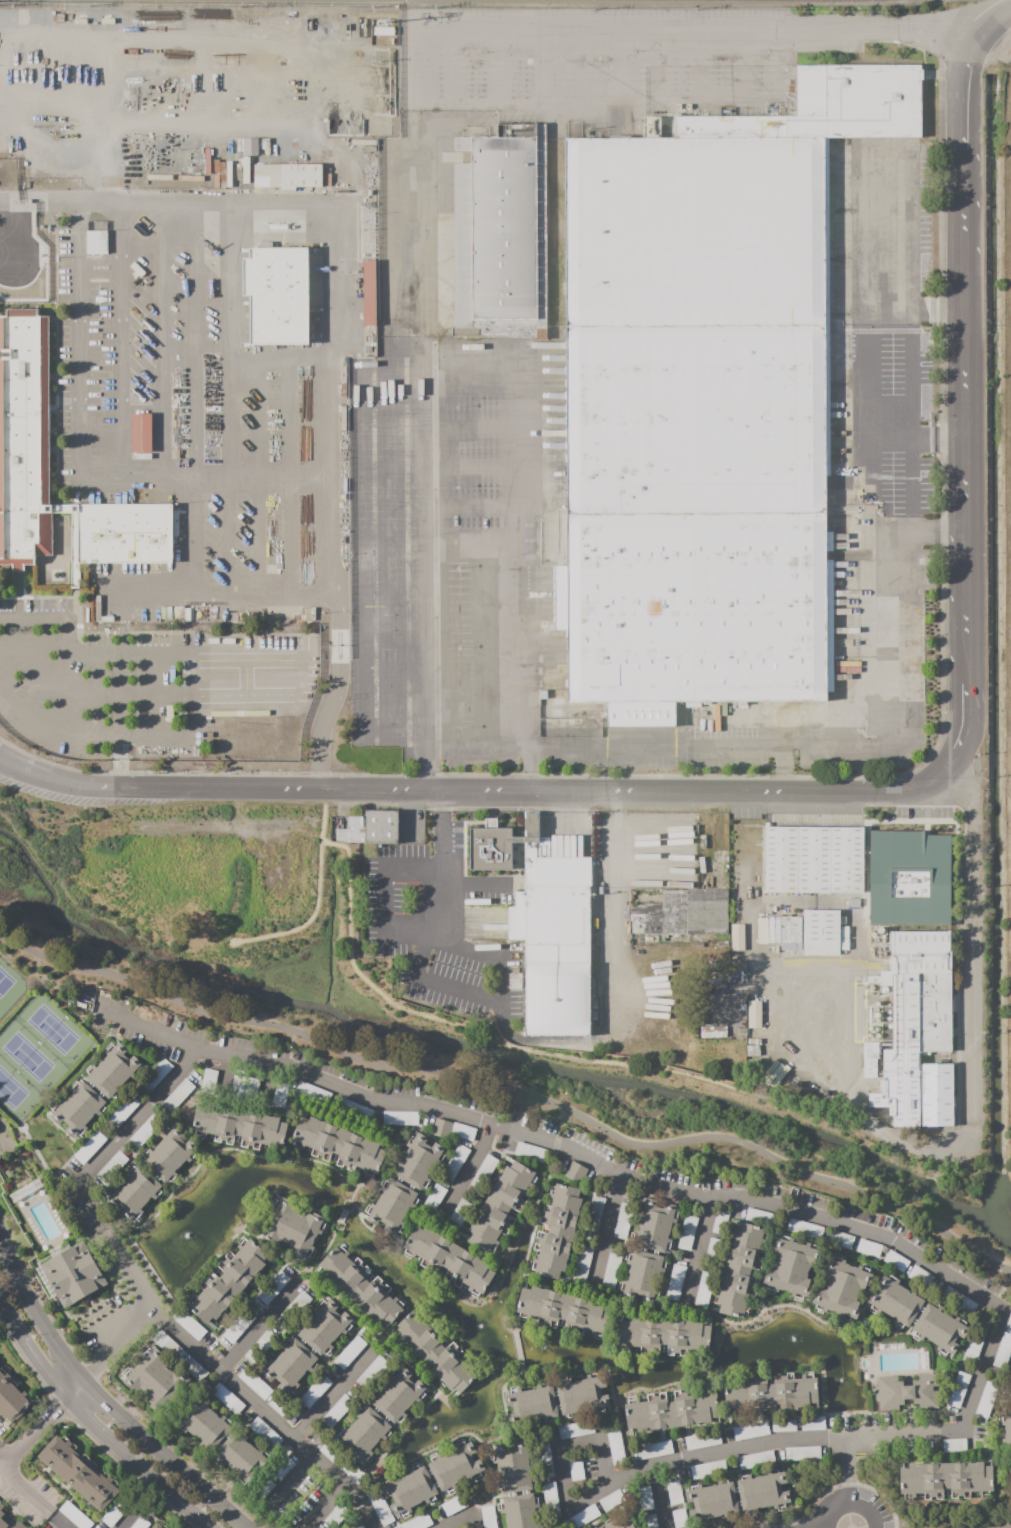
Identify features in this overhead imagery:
building: (456, 0)
building: (59, 17)
building: (348, 23)
road: (516, 27)
building: (384, 31)
road: (982, 31)
road: (695, 44)
road: (739, 44)
road: (654, 45)
road: (540, 65)
road: (583, 65)
road: (449, 66)
road: (496, 66)
road: (964, 105)
building: (8, 144)
building: (251, 147)
building: (288, 175)
road: (964, 200)
building: (500, 234)
road: (410, 237)
building: (96, 242)
road: (907, 262)
road: (330, 267)
building: (369, 293)
building: (278, 295)
road: (186, 306)
road: (965, 334)
road: (158, 340)
road: (119, 341)
road: (909, 369)
road: (856, 370)
road: (470, 383)
building: (704, 401)
road: (432, 406)
road: (882, 406)
building: (24, 409)
road: (909, 424)
road: (440, 426)
road: (965, 429)
building: (141, 432)
road: (864, 443)
road: (937, 443)
road: (509, 459)
road: (440, 467)
road: (910, 478)
road: (124, 479)
road: (965, 487)
road: (440, 507)
road: (222, 537)
road: (258, 537)
road: (467, 539)
road: (304, 593)
road: (966, 598)
building: (99, 610)
building: (169, 613)
building: (310, 616)
road: (65, 623)
road: (371, 652)
road: (966, 673)
road: (44, 682)
road: (899, 688)
road: (195, 691)
road: (155, 692)
building: (204, 699)
building: (578, 713)
road: (116, 719)
road: (964, 725)
road: (51, 733)
road: (732, 747)
road: (588, 753)
road: (408, 754)
road: (942, 772)
road: (137, 789)
road: (608, 791)
building: (355, 821)
building: (531, 824)
building: (382, 827)
building: (342, 835)
building: (813, 860)
road: (441, 867)
building: (908, 879)
road: (474, 887)
road: (607, 894)
building: (854, 903)
building: (682, 914)
building: (546, 929)
building: (844, 931)
building: (789, 933)
building: (821, 933)
building: (737, 937)
building: (844, 945)
road: (969, 945)
road: (482, 952)
building: (737, 968)
building: (873, 979)
road: (435, 989)
building: (83, 1005)
building: (754, 1014)
building: (915, 1019)
road: (146, 1028)
building: (712, 1031)
building: (754, 1041)
park: (32, 1044)
road: (510, 1046)
road: (290, 1050)
building: (753, 1050)
building: (174, 1054)
building: (869, 1057)
building: (754, 1067)
building: (113, 1071)
building: (156, 1075)
park: (421, 1079)
building: (209, 1080)
building: (238, 1087)
building: (251, 1090)
road: (512, 1091)
building: (312, 1092)
building: (178, 1095)
building: (280, 1095)
building: (936, 1095)
building: (78, 1109)
building: (355, 1109)
building: (123, 1111)
building: (400, 1118)
building: (239, 1126)
building: (441, 1129)
building: (145, 1131)
building: (463, 1131)
building: (338, 1146)
building: (89, 1147)
building: (532, 1152)
building: (170, 1154)
road: (938, 1157)
building: (418, 1162)
building: (455, 1162)
building: (111, 1167)
road: (469, 1169)
road: (85, 1172)
building: (484, 1172)
building: (576, 1172)
building: (135, 1192)
building: (435, 1197)
building: (802, 1199)
building: (392, 1206)
building: (501, 1206)
building: (461, 1212)
building: (594, 1214)
building: (760, 1217)
building: (623, 1221)
road: (333, 1222)
building: (719, 1222)
building: (654, 1225)
building: (292, 1228)
road: (606, 1229)
building: (805, 1229)
building: (556, 1230)
building: (687, 1232)
building: (841, 1240)
building: (713, 1247)
building: (869, 1248)
road: (697, 1250)
road: (278, 1256)
road: (220, 1257)
building: (448, 1260)
building: (896, 1261)
building: (582, 1265)
building: (792, 1267)
building: (741, 1270)
road: (304, 1271)
building: (611, 1271)
building: (73, 1274)
building: (642, 1276)
building: (921, 1276)
building: (228, 1280)
road: (300, 1281)
building: (675, 1282)
building: (273, 1286)
building: (361, 1286)
building: (703, 1289)
building: (842, 1289)
building: (958, 1300)
building: (896, 1301)
road: (995, 1303)
building: (295, 1308)
building: (563, 1311)
building: (190, 1325)
building: (239, 1326)
road: (258, 1327)
building: (325, 1327)
building: (939, 1329)
building: (663, 1336)
road: (380, 1340)
building: (976, 1340)
building: (169, 1346)
building: (261, 1346)
building: (436, 1351)
building: (1003, 1351)
building: (350, 1352)
road: (110, 1353)
building: (217, 1353)
building: (290, 1366)
building: (195, 1369)
building: (372, 1372)
building: (154, 1380)
building: (255, 1383)
building: (958, 1389)
building: (316, 1391)
building: (772, 1392)
building: (909, 1392)
road: (331, 1395)
building: (398, 1395)
building: (582, 1395)
building: (12, 1397)
building: (1010, 1397)
road: (102, 1398)
building: (227, 1398)
building: (986, 1399)
building: (531, 1405)
building: (281, 1407)
building: (671, 1409)
building: (337, 1410)
road: (93, 1422)
building: (203, 1423)
building: (783, 1424)
building: (813, 1424)
road: (37, 1428)
building: (575, 1429)
building: (750, 1431)
building: (1005, 1431)
building: (266, 1433)
building: (363, 1433)
building: (702, 1440)
building: (954, 1445)
building: (616, 1447)
road: (572, 1450)
building: (654, 1450)
building: (331, 1453)
building: (802, 1453)
road: (5, 1456)
building: (242, 1456)
building: (544, 1460)
building: (755, 1460)
building: (578, 1464)
building: (284, 1466)
building: (455, 1466)
building: (513, 1467)
building: (708, 1469)
road: (848, 1470)
building: (79, 1473)
building: (354, 1473)
road: (295, 1478)
building: (593, 1479)
building: (946, 1480)
building: (262, 1490)
building: (409, 1490)
building: (762, 1491)
building: (674, 1492)
road: (31, 1497)
building: (550, 1497)
road: (660, 1497)
building: (644, 1499)
building: (612, 1501)
building: (711, 1501)
road: (318, 1504)
building: (454, 1505)
road: (851, 1505)
building: (1, 1507)
building: (380, 1507)
building: (520, 1511)
building: (114, 1514)
building: (338, 1514)
building: (75, 1515)
building: (488, 1517)
building: (582, 1517)
building: (679, 1517)
road: (466, 1519)
building: (649, 1521)
building: (418, 1522)
building: (619, 1522)
building: (9, 1523)
building: (140, 1523)
building: (164, 1526)
building: (320, 1526)
building: (361, 1526)
road: (819, 1526)
building: (156, 1527)
building: (543, 1527)
road: (1004, 1527)

